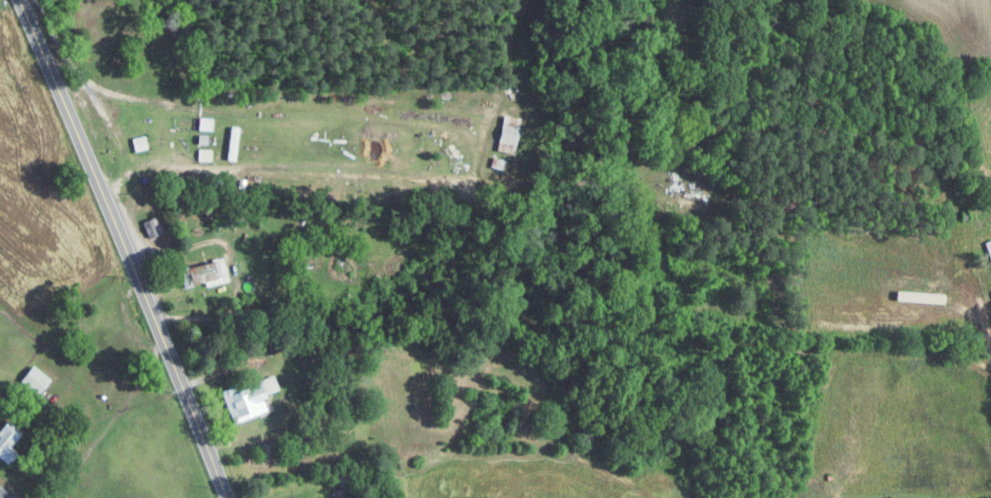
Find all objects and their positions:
building: (204, 124)
building: (201, 139)
building: (139, 143)
building: (231, 143)
building: (204, 155)
road: (566, 181)
building: (174, 184)
building: (188, 184)
crop: (40, 203)
building: (152, 226)
building: (269, 238)
road: (125, 247)
building: (303, 256)
road: (238, 268)
building: (204, 273)
road: (329, 354)
building: (34, 380)
building: (244, 402)
road: (244, 434)
building: (6, 445)
building: (345, 479)
crop: (516, 479)
building: (345, 492)

